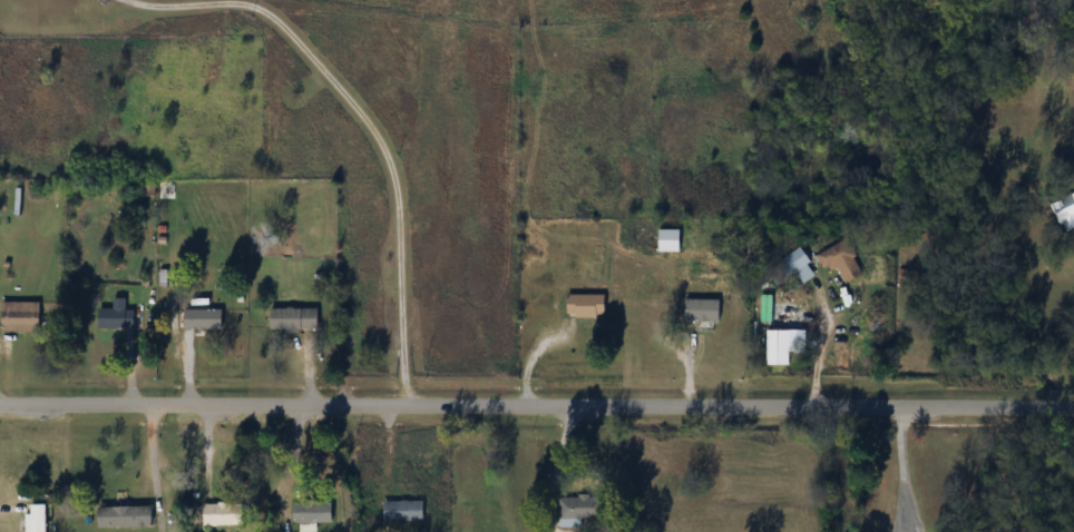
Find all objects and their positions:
building: (1065, 210)
building: (841, 262)
building: (797, 266)
building: (585, 306)
building: (702, 311)
building: (20, 316)
building: (116, 316)
building: (202, 319)
building: (293, 319)
road: (824, 345)
road: (537, 408)
building: (577, 508)
building: (403, 511)
building: (311, 513)
building: (218, 514)
building: (124, 516)
building: (36, 518)

